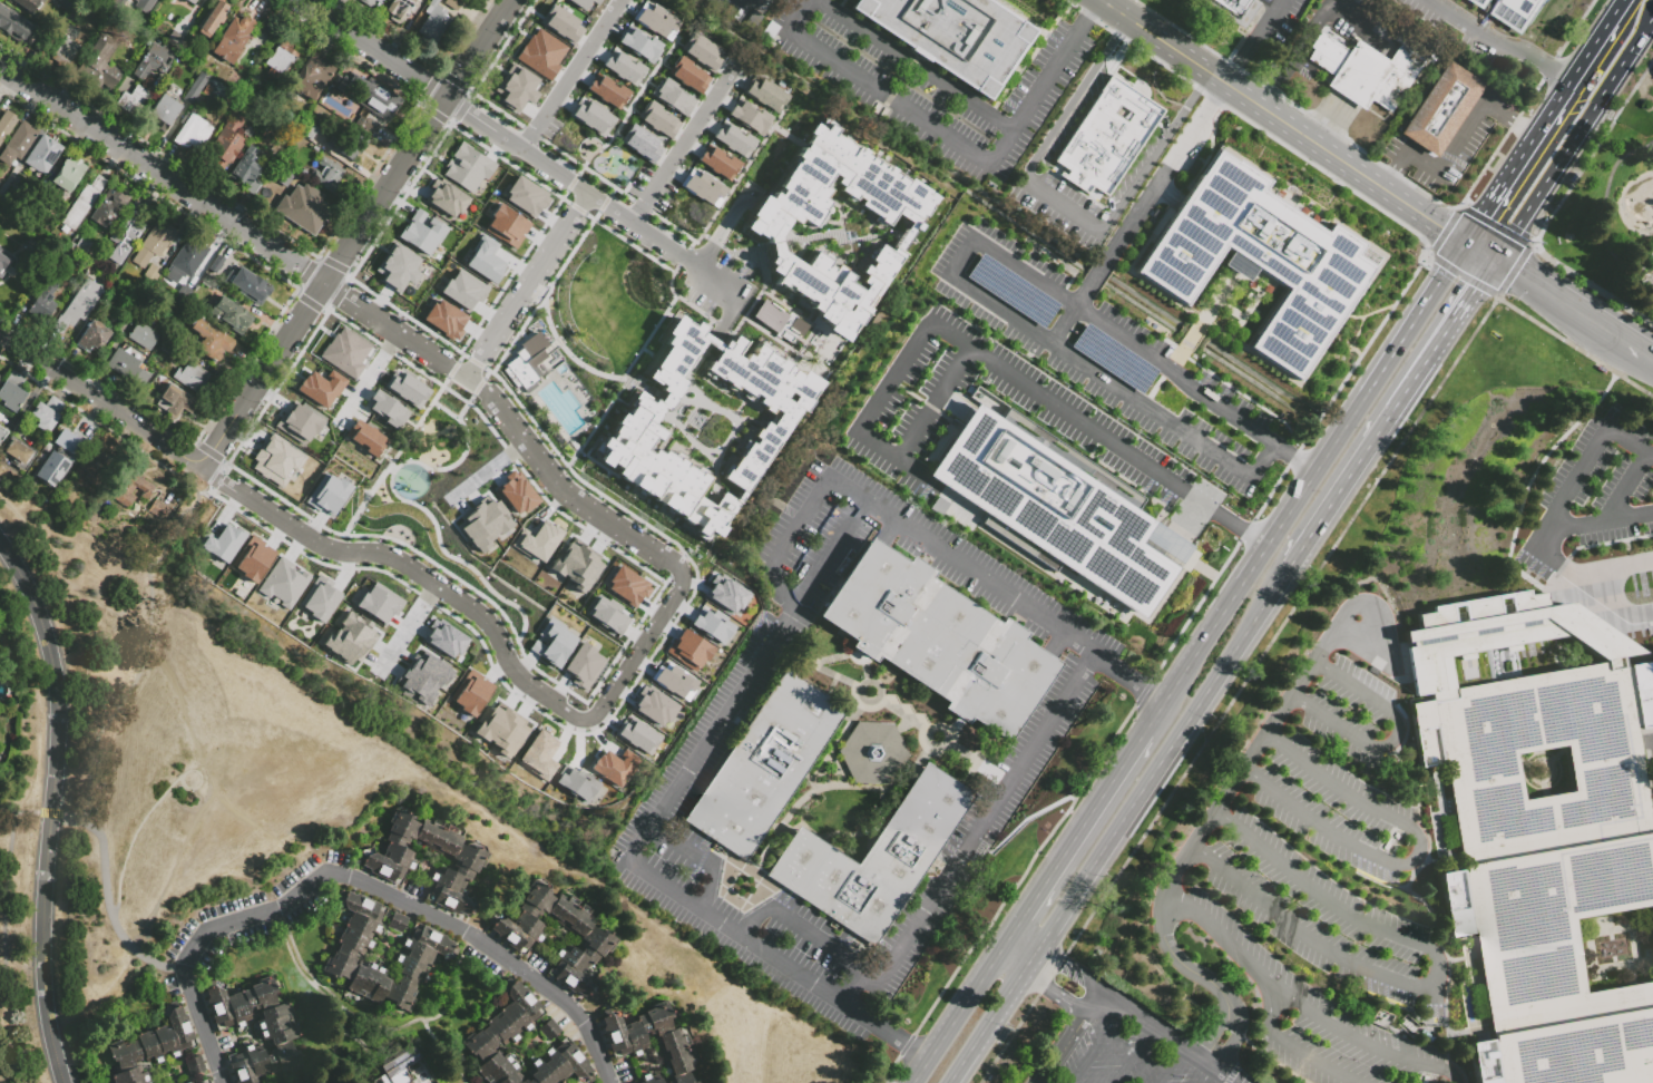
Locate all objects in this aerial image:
building: (199, 0)
building: (594, 1)
building: (190, 2)
building: (578, 2)
building: (20, 3)
building: (369, 3)
building: (140, 4)
building: (454, 6)
building: (63, 9)
building: (1233, 10)
building: (1518, 10)
building: (401, 11)
road: (1116, 11)
road: (1088, 16)
road: (1349, 16)
building: (74, 19)
road: (1268, 19)
building: (214, 20)
building: (654, 20)
building: (756, 20)
building: (434, 22)
building: (560, 23)
building: (11, 26)
building: (773, 32)
building: (955, 36)
building: (180, 39)
road: (1503, 40)
building: (237, 42)
building: (38, 43)
building: (638, 43)
road: (372, 48)
road: (1106, 49)
building: (701, 51)
building: (540, 52)
building: (67, 53)
road: (1298, 55)
building: (282, 59)
road: (1240, 60)
building: (155, 62)
road: (916, 65)
building: (623, 66)
building: (101, 67)
road: (570, 74)
building: (1367, 74)
building: (686, 75)
road: (1575, 76)
building: (314, 79)
road: (1224, 82)
flagpole: (1315, 84)
building: (516, 87)
building: (606, 89)
building: (197, 90)
road: (1219, 90)
building: (207, 92)
building: (763, 92)
building: (671, 96)
road: (1192, 96)
building: (372, 98)
building: (134, 101)
building: (1442, 111)
building: (747, 115)
building: (164, 116)
building: (590, 116)
road: (1509, 118)
building: (657, 119)
road: (1330, 120)
building: (363, 125)
building: (7, 127)
building: (311, 131)
road: (943, 131)
building: (194, 135)
building: (1107, 136)
building: (733, 137)
road: (1573, 138)
building: (640, 143)
building: (348, 145)
road: (682, 145)
building: (19, 146)
building: (227, 146)
road: (1450, 152)
building: (43, 157)
building: (716, 160)
building: (467, 167)
road: (1395, 169)
building: (248, 173)
road: (160, 174)
building: (70, 176)
building: (285, 179)
road: (1158, 179)
building: (331, 180)
building: (0, 185)
building: (702, 186)
road: (1390, 192)
building: (526, 195)
road: (594, 196)
building: (262, 197)
building: (444, 197)
road: (1495, 197)
building: (12, 201)
building: (42, 205)
building: (85, 205)
fountain: (1647, 206)
road: (1553, 209)
building: (111, 211)
road: (1068, 212)
building: (305, 213)
road: (1604, 213)
traffic signals: (1483, 216)
road: (340, 219)
building: (506, 225)
road: (723, 226)
traffic signals: (1444, 227)
building: (48, 231)
building: (763, 231)
building: (421, 232)
road: (354, 233)
building: (128, 234)
building: (155, 246)
building: (82, 248)
road: (1479, 251)
road: (962, 257)
building: (483, 258)
building: (1261, 260)
building: (63, 262)
building: (4, 264)
building: (187, 264)
building: (397, 266)
building: (222, 267)
road: (1098, 273)
traffic signals: (1516, 274)
building: (154, 275)
building: (205, 284)
road: (529, 285)
building: (463, 287)
traffic signals: (1475, 289)
building: (253, 290)
building: (184, 297)
road: (1555, 300)
road: (1222, 301)
road: (1465, 302)
building: (46, 303)
building: (80, 308)
building: (141, 308)
building: (233, 314)
road: (1070, 314)
road: (728, 315)
building: (444, 319)
building: (777, 320)
building: (145, 339)
road: (1196, 339)
building: (94, 340)
building: (211, 341)
building: (172, 349)
road: (971, 350)
building: (344, 351)
road: (1634, 351)
building: (526, 360)
road: (1180, 363)
building: (129, 371)
building: (1601, 371)
building: (2, 375)
building: (193, 380)
road: (363, 381)
building: (1084, 386)
building: (320, 387)
building: (405, 388)
building: (13, 393)
road: (99, 399)
building: (177, 403)
building: (385, 408)
building: (48, 417)
road: (510, 421)
building: (297, 422)
building: (634, 426)
building: (2, 437)
building: (365, 438)
road: (1274, 446)
road: (1595, 448)
building: (20, 455)
road: (1363, 455)
building: (274, 459)
building: (61, 461)
building: (97, 470)
road: (486, 471)
road: (1302, 481)
road: (932, 488)
road: (1625, 488)
building: (130, 491)
building: (515, 492)
building: (326, 494)
road: (1525, 497)
building: (1055, 511)
building: (162, 513)
building: (94, 516)
road: (1614, 519)
building: (483, 521)
road: (799, 525)
road: (1559, 529)
building: (536, 540)
building: (222, 543)
road: (1538, 550)
building: (252, 557)
building: (575, 564)
road: (410, 567)
building: (1039, 567)
road: (74, 575)
road: (1578, 577)
building: (282, 582)
building: (627, 585)
building: (724, 593)
building: (317, 597)
building: (379, 602)
road: (1288, 613)
building: (606, 614)
building: (711, 624)
road: (404, 630)
road: (148, 637)
building: (350, 638)
building: (443, 638)
building: (939, 642)
building: (551, 643)
building: (687, 648)
road: (636, 651)
road: (786, 652)
road: (1101, 660)
building: (581, 664)
building: (421, 675)
road: (752, 675)
building: (673, 680)
road: (1133, 683)
building: (470, 692)
building: (653, 704)
road: (896, 708)
road: (1281, 711)
building: (500, 728)
building: (636, 734)
road: (1396, 738)
building: (873, 752)
building: (539, 754)
road: (1164, 754)
park: (163, 757)
building: (613, 765)
building: (765, 767)
road: (185, 771)
road: (994, 777)
building: (576, 781)
road: (198, 799)
road: (23, 809)
road: (49, 809)
road: (984, 816)
road: (1076, 818)
building: (1540, 825)
road: (260, 828)
park: (26, 835)
building: (1392, 835)
road: (134, 838)
road: (1417, 855)
building: (874, 857)
road: (698, 859)
building: (387, 864)
road: (358, 880)
road: (1408, 884)
road: (106, 892)
building: (399, 924)
road: (805, 934)
road: (1221, 936)
building: (520, 940)
road: (1018, 941)
road: (0, 946)
building: (433, 954)
road: (1030, 957)
road: (1069, 967)
road: (1190, 969)
road: (1035, 977)
road: (1436, 977)
road: (850, 984)
road: (958, 998)
road: (1065, 1001)
road: (1093, 1003)
road: (1300, 1003)
building: (1380, 1018)
road: (986, 1026)
road: (1215, 1027)
building: (1408, 1027)
building: (276, 1028)
road: (880, 1028)
building: (549, 1031)
road: (1236, 1033)
building: (503, 1036)
road: (1170, 1037)
building: (1225, 1040)
building: (627, 1043)
road: (1096, 1044)
building: (151, 1047)
road: (1063, 1048)
road: (1134, 1054)
road: (1171, 1064)
building: (195, 1066)
building: (561, 1066)
building: (400, 1067)
road: (1206, 1074)
building: (1422, 1079)
building: (651, 1080)
building: (205, 1082)

